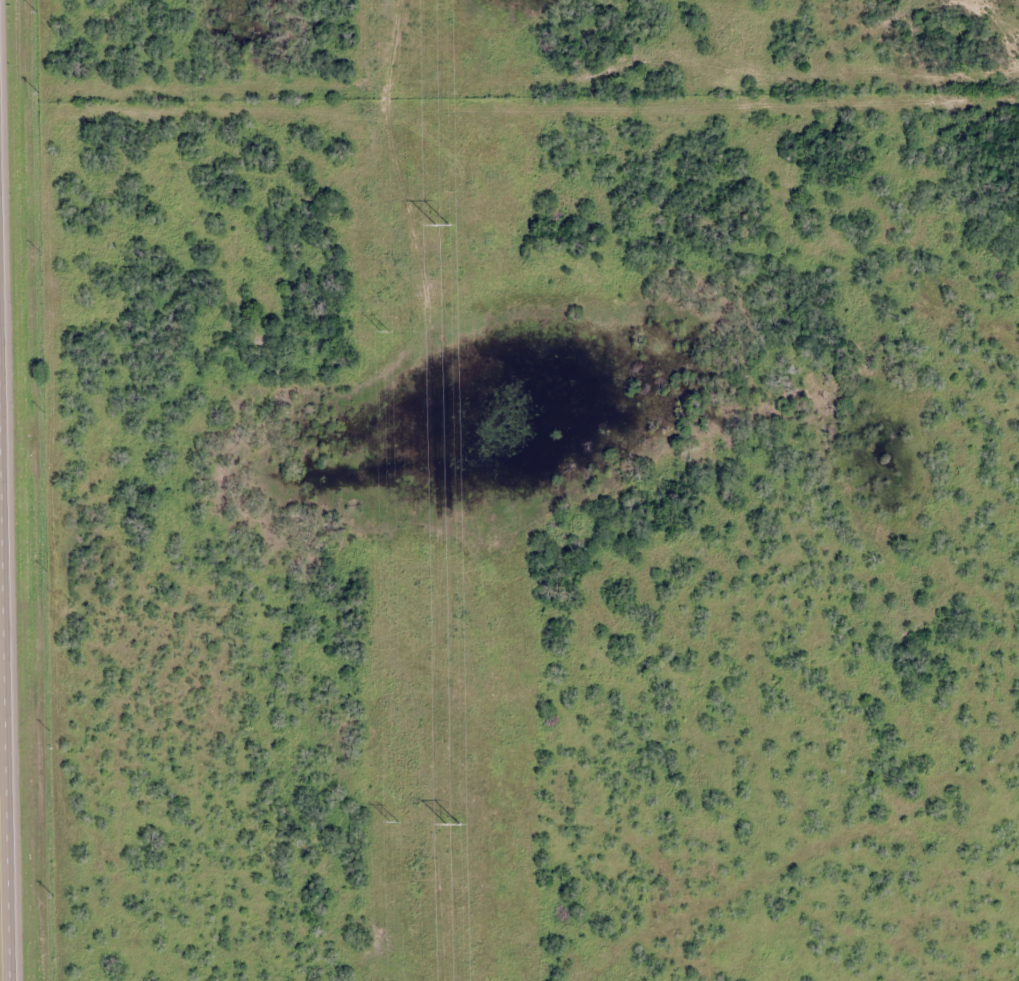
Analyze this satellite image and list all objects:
power tower: (439, 227)
power tower: (384, 332)
road: (7, 628)
power tower: (393, 823)
power tower: (450, 827)

